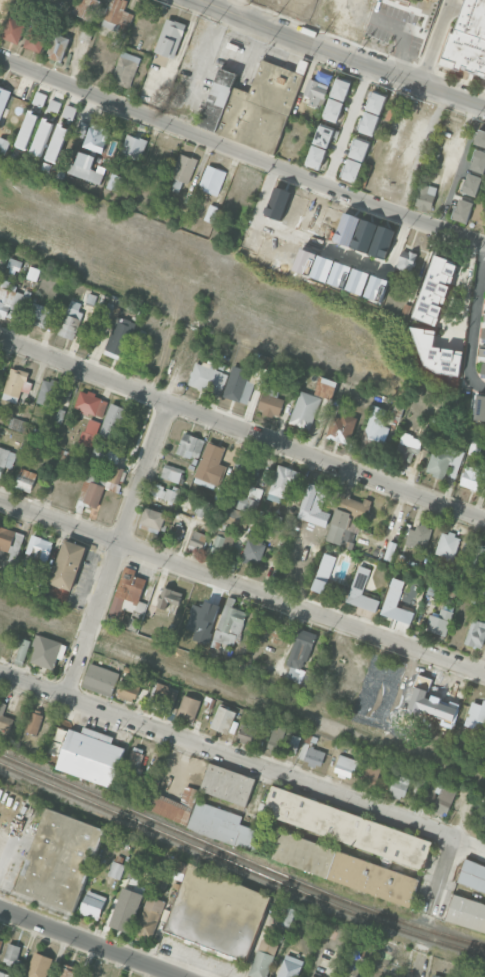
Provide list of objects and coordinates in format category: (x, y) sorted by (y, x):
building: (86, 8)
building: (297, 8)
building: (114, 13)
building: (13, 30)
building: (85, 34)
building: (36, 36)
building: (170, 38)
building: (470, 39)
road: (434, 41)
building: (59, 46)
road: (343, 55)
building: (125, 69)
building: (314, 89)
building: (340, 89)
building: (3, 99)
building: (376, 102)
building: (253, 105)
building: (53, 110)
building: (333, 110)
building: (31, 120)
building: (369, 122)
road: (347, 125)
building: (81, 129)
building: (323, 136)
building: (480, 137)
building: (41, 138)
building: (95, 139)
road: (458, 141)
building: (57, 143)
building: (4, 145)
building: (133, 146)
building: (359, 150)
road: (241, 154)
building: (316, 156)
building: (479, 161)
road: (461, 166)
building: (184, 167)
building: (86, 168)
building: (352, 169)
building: (212, 177)
building: (114, 181)
building: (176, 185)
building: (472, 185)
building: (426, 197)
building: (463, 210)
building: (479, 211)
building: (211, 213)
building: (364, 235)
building: (381, 241)
road: (322, 246)
building: (406, 260)
building: (14, 264)
building: (32, 273)
building: (358, 281)
building: (375, 287)
building: (435, 290)
building: (10, 298)
building: (38, 315)
building: (484, 319)
building: (71, 320)
road: (474, 320)
building: (117, 331)
building: (484, 333)
building: (482, 350)
building: (437, 353)
building: (483, 369)
building: (206, 377)
building: (16, 384)
building: (238, 385)
building: (326, 387)
building: (48, 392)
building: (63, 394)
building: (270, 402)
building: (91, 403)
building: (480, 408)
building: (305, 410)
building: (112, 421)
building: (17, 424)
building: (375, 426)
building: (341, 427)
road: (242, 430)
building: (90, 432)
building: (190, 446)
building: (407, 447)
building: (68, 457)
building: (6, 459)
building: (443, 459)
building: (211, 464)
building: (244, 470)
building: (171, 473)
building: (100, 477)
building: (474, 477)
building: (25, 479)
building: (284, 481)
building: (163, 492)
building: (250, 500)
building: (347, 515)
building: (152, 520)
building: (177, 532)
building: (418, 536)
building: (347, 539)
building: (10, 540)
building: (198, 540)
building: (447, 545)
building: (222, 546)
building: (254, 549)
road: (118, 550)
building: (38, 552)
building: (478, 557)
building: (68, 565)
building: (326, 577)
road: (242, 585)
building: (481, 588)
building: (361, 591)
building: (128, 598)
building: (169, 600)
building: (396, 603)
park: (37, 622)
building: (439, 622)
building: (229, 623)
building: (476, 634)
building: (21, 648)
building: (47, 651)
building: (299, 655)
building: (100, 679)
building: (128, 689)
building: (162, 698)
building: (188, 707)
building: (476, 718)
building: (4, 719)
building: (224, 720)
building: (33, 721)
building: (246, 734)
building: (282, 741)
building: (54, 742)
road: (226, 754)
building: (90, 756)
building: (314, 756)
building: (135, 761)
building: (345, 766)
building: (370, 775)
building: (227, 784)
building: (398, 786)
building: (444, 799)
building: (201, 817)
building: (482, 819)
building: (346, 827)
railway: (239, 856)
building: (60, 859)
railway: (239, 865)
building: (344, 868)
building: (116, 869)
road: (440, 875)
building: (472, 877)
building: (160, 882)
building: (92, 905)
building: (125, 910)
building: (217, 912)
building: (466, 914)
building: (150, 916)
building: (287, 917)
building: (0, 942)
road: (91, 942)
building: (12, 954)
building: (263, 958)
building: (39, 965)
road: (419, 965)
building: (290, 966)
building: (66, 972)
building: (4, 974)
building: (341, 974)
building: (314, 976)
building: (435, 976)

